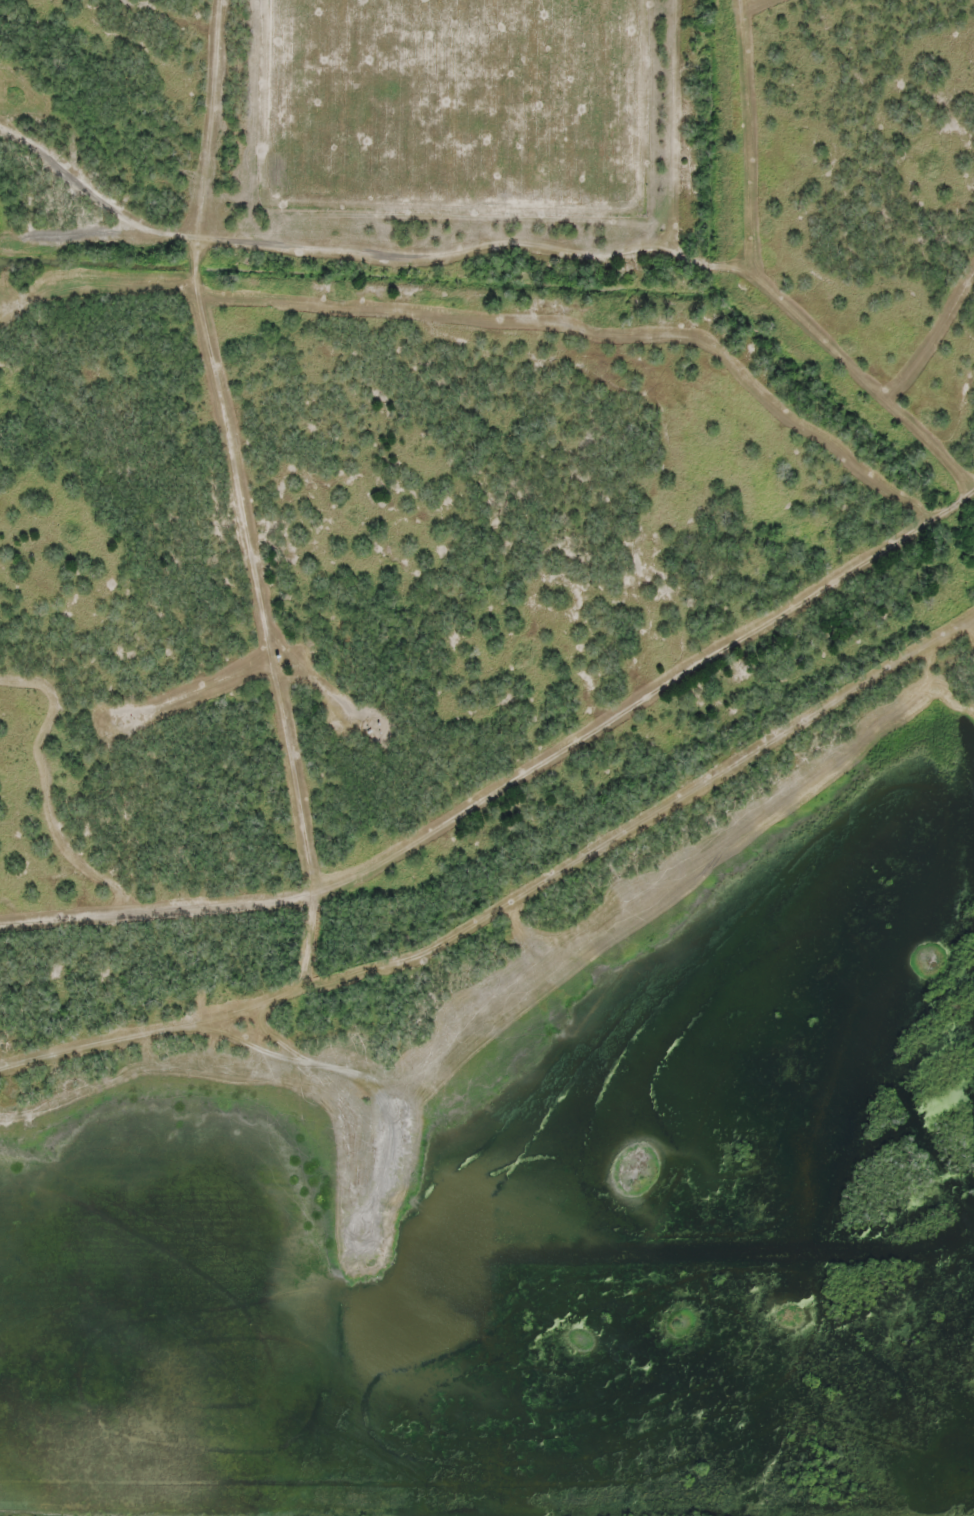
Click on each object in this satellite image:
road: (495, 204)
river: (42, 242)

